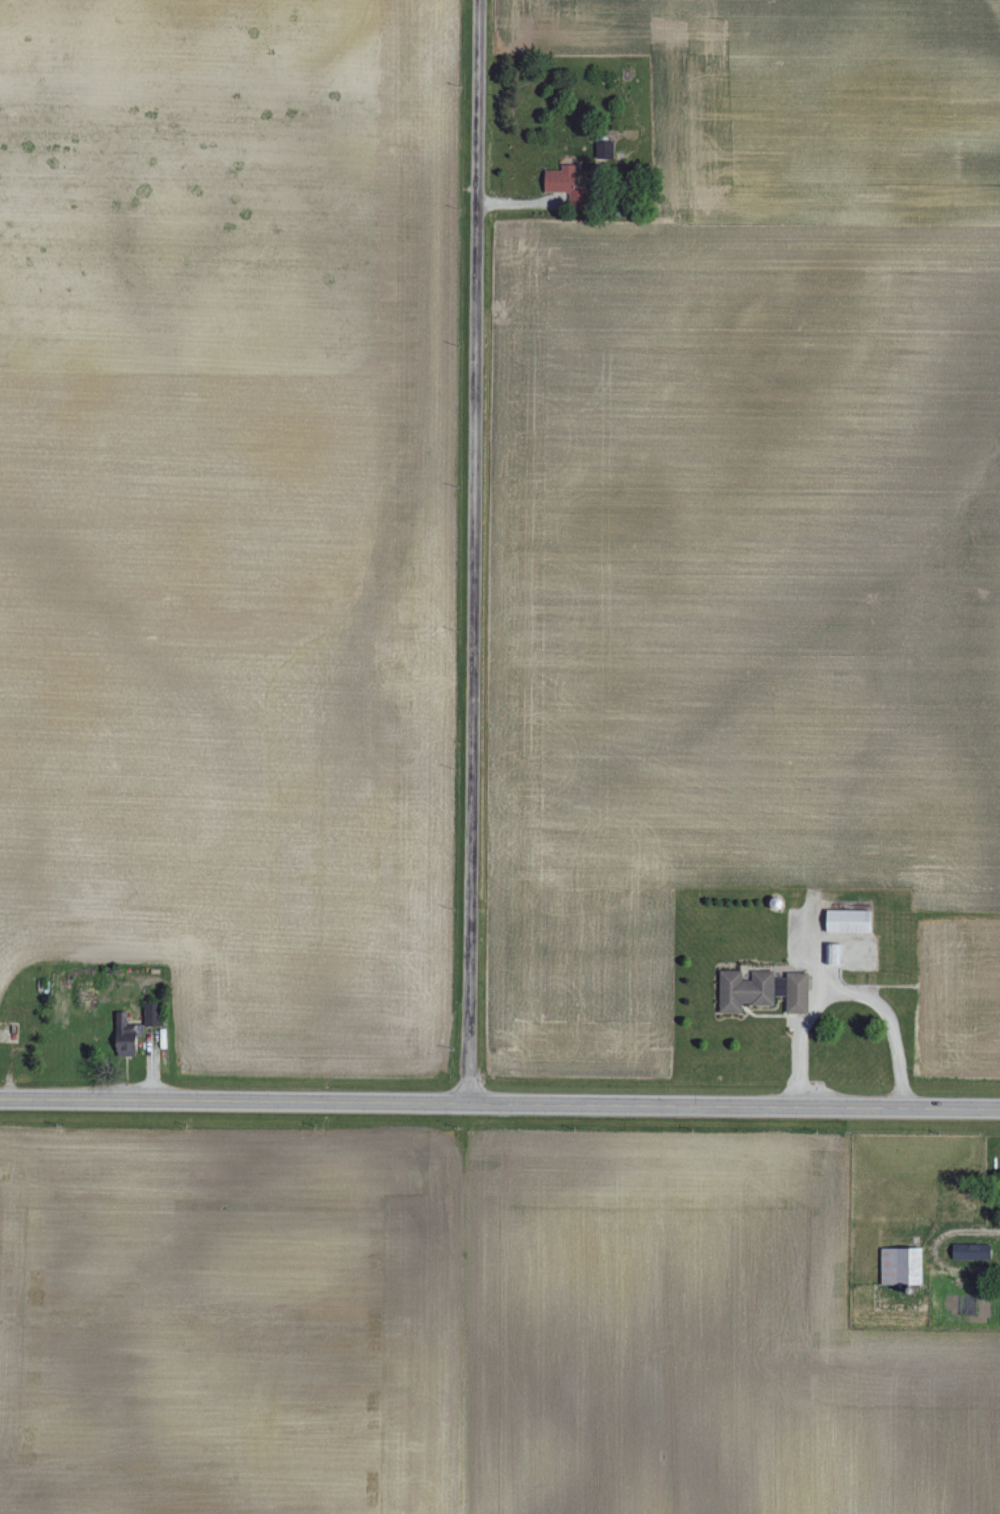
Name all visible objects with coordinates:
building: (601, 149)
building: (559, 181)
road: (509, 201)
road: (471, 553)
building: (844, 921)
building: (830, 954)
building: (744, 990)
building: (793, 992)
building: (119, 1028)
road: (500, 1107)
building: (974, 1252)
building: (897, 1267)

